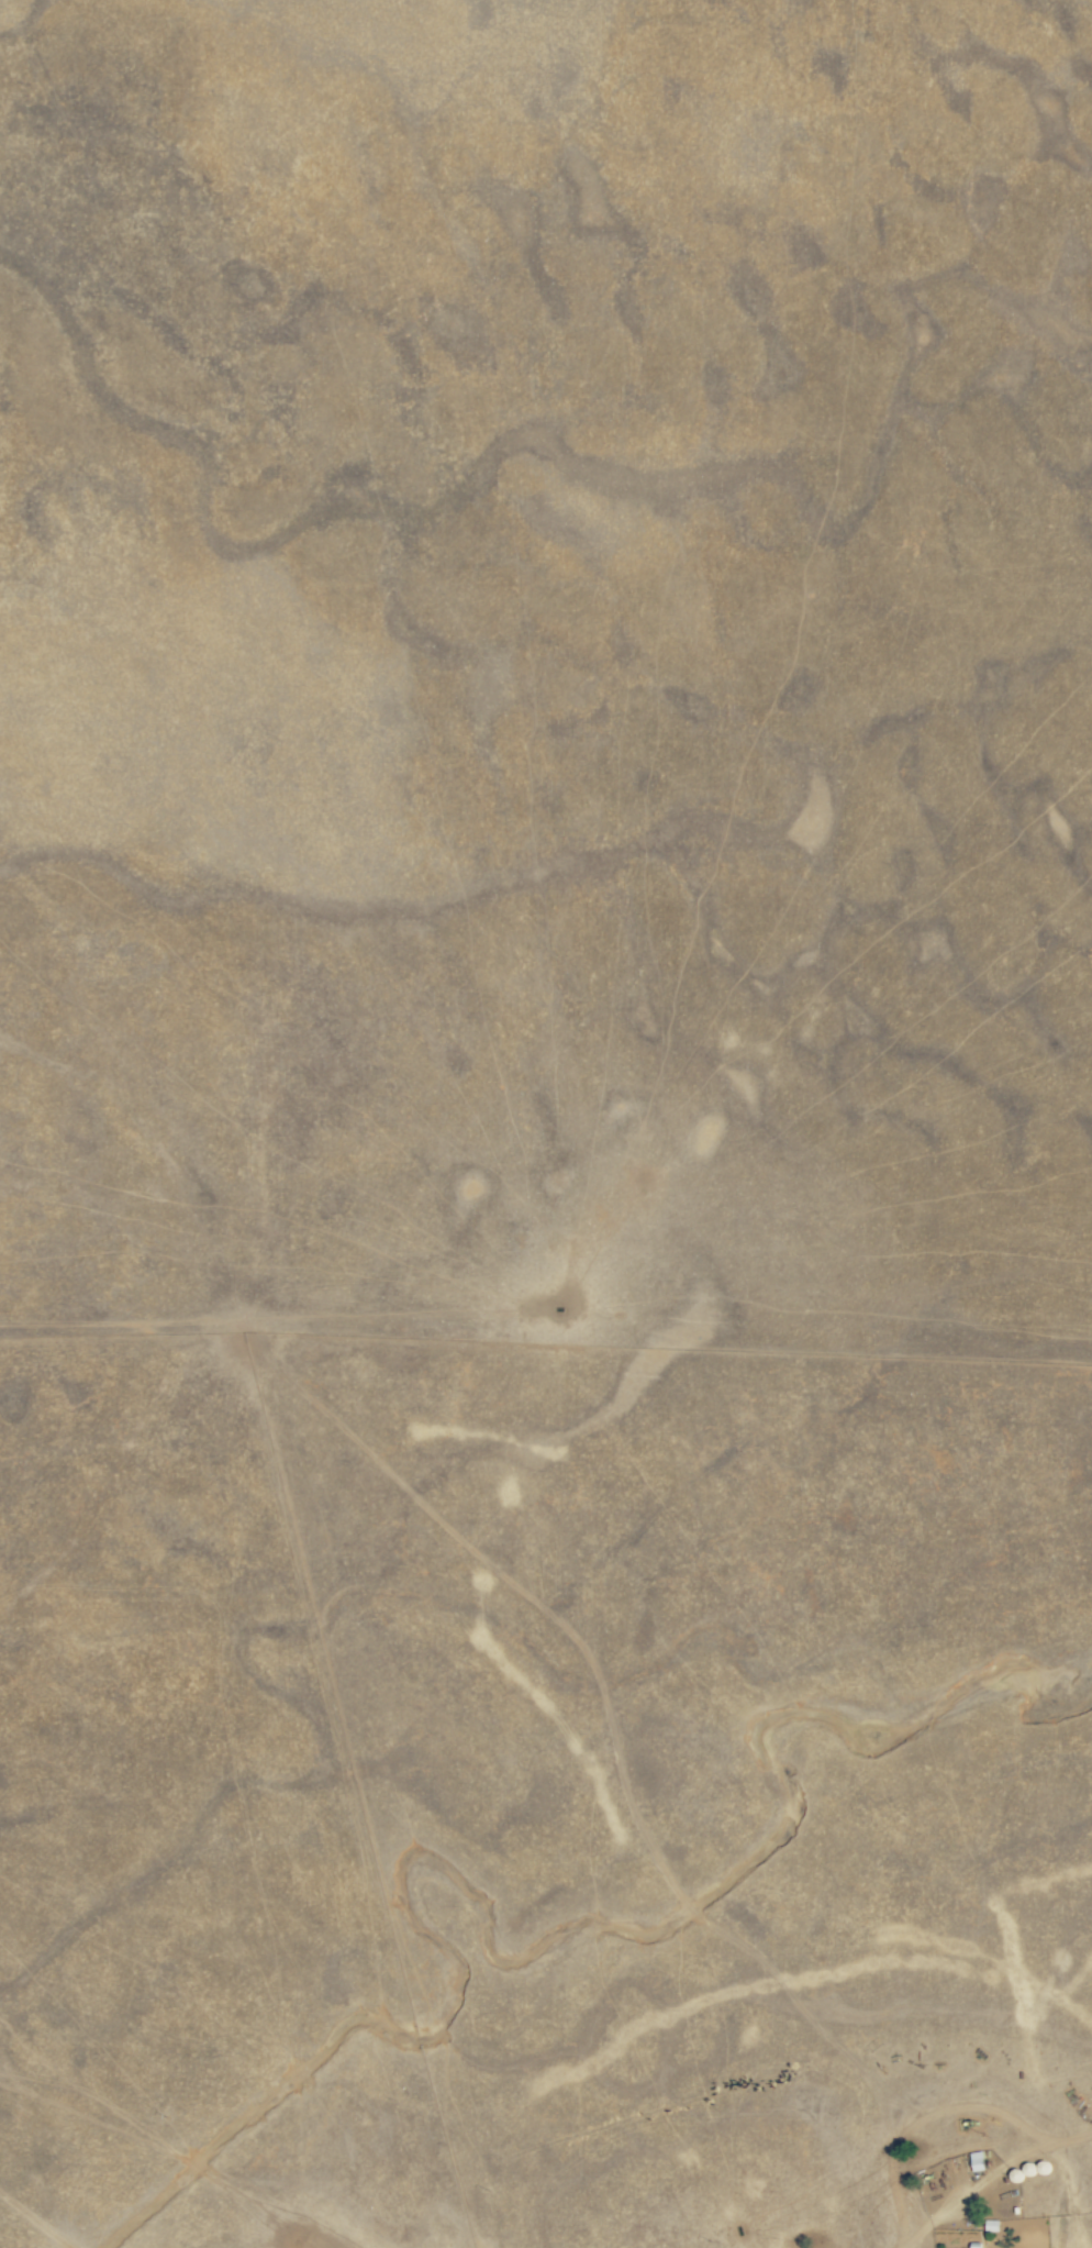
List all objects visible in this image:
road: (1019, 2204)

